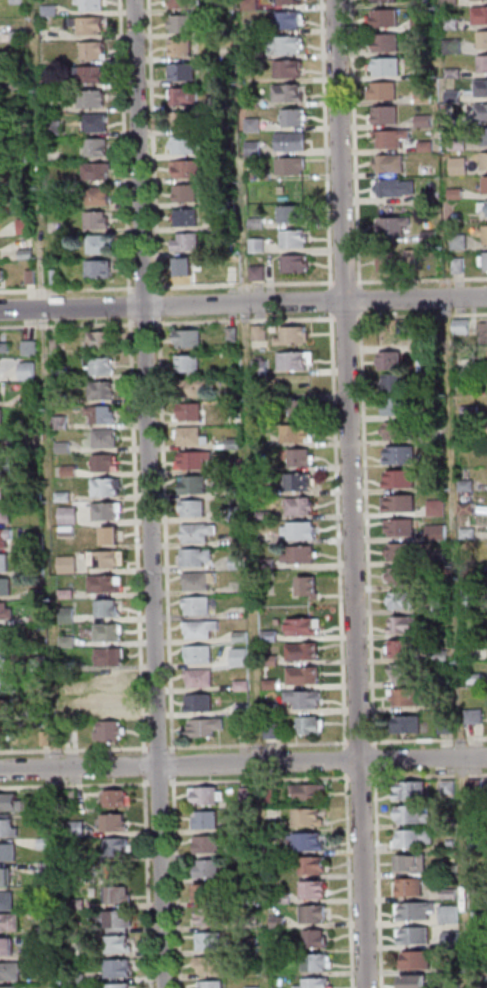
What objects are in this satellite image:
building: (21, 1)
building: (292, 1)
building: (387, 1)
building: (454, 2)
building: (184, 3)
building: (424, 3)
building: (94, 4)
building: (253, 4)
building: (53, 10)
building: (482, 15)
building: (387, 18)
building: (291, 20)
building: (454, 22)
building: (422, 23)
building: (185, 24)
building: (93, 25)
building: (223, 30)
building: (21, 35)
building: (424, 37)
building: (484, 39)
building: (388, 43)
building: (288, 44)
building: (456, 46)
building: (183, 48)
building: (96, 49)
building: (253, 51)
building: (484, 64)
building: (389, 67)
building: (291, 68)
building: (187, 71)
building: (91, 73)
building: (427, 73)
building: (456, 73)
building: (54, 84)
building: (483, 87)
building: (385, 91)
building: (291, 94)
building: (186, 96)
building: (456, 96)
building: (92, 98)
building: (427, 98)
building: (224, 101)
building: (255, 102)
building: (448, 109)
building: (483, 113)
building: (387, 115)
building: (296, 117)
building: (186, 119)
building: (427, 120)
building: (99, 122)
building: (256, 124)
building: (227, 125)
building: (57, 127)
building: (0, 129)
building: (27, 132)
building: (483, 133)
building: (394, 138)
building: (294, 141)
building: (188, 144)
road: (329, 144)
road: (357, 144)
building: (460, 145)
building: (428, 146)
building: (100, 147)
road: (127, 147)
road: (156, 148)
building: (256, 148)
building: (228, 152)
building: (26, 156)
building: (486, 159)
building: (392, 163)
building: (294, 165)
building: (460, 166)
building: (189, 168)
building: (100, 170)
building: (26, 180)
building: (484, 183)
building: (397, 187)
building: (188, 193)
building: (459, 193)
building: (101, 195)
building: (432, 198)
building: (24, 204)
building: (484, 206)
building: (295, 213)
building: (458, 216)
building: (189, 218)
building: (100, 219)
building: (228, 220)
building: (259, 222)
building: (1, 225)
building: (28, 225)
building: (396, 225)
building: (484, 232)
building: (432, 235)
building: (296, 238)
building: (462, 241)
building: (189, 242)
building: (101, 243)
building: (260, 246)
building: (28, 254)
building: (412, 257)
building: (484, 261)
building: (390, 262)
building: (297, 263)
building: (461, 265)
building: (187, 266)
building: (102, 268)
building: (261, 272)
building: (2, 274)
building: (56, 276)
building: (34, 277)
road: (423, 279)
road: (348, 281)
road: (246, 284)
road: (147, 288)
road: (69, 290)
road: (334, 301)
road: (362, 301)
road: (243, 303)
road: (162, 306)
road: (133, 307)
road: (423, 316)
road: (348, 318)
road: (247, 321)
road: (148, 324)
road: (69, 326)
building: (464, 326)
building: (485, 329)
building: (262, 333)
building: (235, 334)
building: (294, 336)
building: (191, 338)
building: (105, 340)
building: (5, 345)
building: (57, 346)
building: (33, 348)
building: (297, 360)
building: (393, 360)
building: (191, 363)
building: (104, 365)
building: (263, 367)
building: (30, 370)
building: (63, 373)
building: (470, 376)
building: (397, 382)
building: (197, 387)
building: (105, 389)
building: (1, 392)
building: (235, 394)
building: (32, 397)
building: (63, 398)
building: (399, 406)
building: (305, 409)
building: (472, 410)
building: (194, 412)
building: (233, 413)
building: (104, 414)
building: (268, 414)
building: (3, 417)
building: (63, 422)
building: (402, 430)
building: (300, 433)
building: (194, 436)
building: (108, 438)
building: (1, 441)
building: (237, 443)
building: (66, 447)
building: (402, 455)
building: (303, 457)
building: (196, 460)
building: (108, 462)
building: (5, 464)
building: (239, 465)
building: (72, 471)
building: (402, 479)
building: (301, 481)
building: (440, 484)
building: (195, 485)
building: (469, 485)
building: (109, 486)
building: (3, 490)
building: (238, 491)
building: (267, 491)
road: (152, 493)
road: (354, 493)
building: (37, 496)
building: (65, 496)
building: (401, 503)
building: (303, 506)
building: (196, 508)
building: (439, 508)
building: (469, 508)
building: (110, 510)
building: (241, 511)
building: (6, 513)
building: (71, 515)
building: (267, 515)
building: (402, 527)
building: (70, 530)
building: (302, 530)
road: (369, 530)
road: (340, 531)
building: (200, 532)
building: (439, 532)
building: (471, 534)
building: (114, 535)
road: (168, 536)
building: (6, 537)
road: (140, 537)
building: (241, 540)
building: (39, 543)
building: (403, 551)
building: (302, 555)
building: (198, 557)
building: (441, 557)
building: (109, 559)
building: (5, 562)
building: (240, 562)
building: (270, 563)
building: (70, 564)
building: (404, 576)
building: (201, 581)
building: (476, 582)
building: (107, 584)
building: (6, 586)
building: (310, 587)
building: (40, 594)
building: (69, 594)
building: (472, 597)
building: (405, 600)
building: (200, 605)
building: (443, 605)
building: (110, 608)
building: (6, 611)
building: (70, 615)
building: (42, 619)
building: (407, 625)
building: (305, 627)
building: (203, 629)
building: (112, 632)
building: (5, 635)
building: (272, 636)
building: (243, 637)
building: (72, 642)
building: (403, 648)
building: (306, 651)
building: (201, 654)
building: (443, 655)
building: (113, 657)
building: (242, 657)
building: (5, 659)
building: (273, 661)
building: (42, 663)
building: (71, 666)
building: (406, 672)
building: (306, 676)
building: (202, 678)
building: (478, 679)
building: (447, 680)
building: (113, 681)
building: (7, 684)
building: (273, 684)
building: (244, 686)
building: (77, 688)
building: (43, 690)
building: (407, 696)
building: (307, 699)
building: (201, 703)
building: (112, 705)
building: (6, 708)
building: (274, 709)
building: (245, 710)
building: (44, 712)
building: (74, 713)
building: (477, 716)
building: (410, 724)
building: (448, 724)
building: (311, 725)
building: (207, 727)
building: (113, 731)
building: (275, 731)
building: (6, 735)
building: (69, 735)
building: (48, 737)
road: (429, 740)
road: (362, 742)
road: (260, 745)
road: (161, 748)
road: (75, 750)
road: (377, 760)
road: (348, 761)
road: (243, 764)
road: (176, 766)
road: (147, 767)
road: (429, 776)
road: (363, 779)
road: (261, 781)
road: (162, 783)
road: (76, 785)
building: (451, 787)
building: (479, 787)
building: (413, 791)
building: (311, 792)
building: (249, 795)
building: (208, 796)
building: (273, 796)
building: (49, 797)
building: (72, 797)
building: (119, 799)
building: (12, 803)
building: (414, 815)
building: (310, 818)
building: (208, 820)
building: (479, 820)
building: (450, 821)
building: (46, 822)
building: (117, 823)
building: (278, 825)
building: (9, 828)
building: (79, 828)
building: (416, 838)
building: (309, 842)
building: (479, 842)
building: (47, 843)
building: (453, 843)
building: (210, 844)
building: (120, 846)
building: (279, 851)
building: (9, 852)
building: (77, 856)
building: (412, 863)
building: (314, 865)
building: (210, 869)
building: (453, 870)
building: (50, 872)
building: (6, 878)
road: (351, 880)
road: (380, 880)
road: (179, 881)
road: (149, 883)
building: (412, 888)
building: (315, 890)
building: (208, 893)
building: (481, 893)
building: (451, 894)
building: (122, 895)
building: (249, 899)
building: (285, 899)
building: (8, 902)
building: (79, 904)
building: (416, 911)
building: (316, 914)
building: (451, 915)
building: (212, 917)
building: (481, 917)
building: (119, 918)
building: (11, 922)
building: (280, 922)
building: (416, 935)
building: (317, 939)
building: (453, 939)
building: (212, 941)
building: (482, 942)
building: (122, 945)
building: (8, 946)
building: (252, 946)
building: (79, 950)
building: (417, 961)
building: (317, 963)
building: (482, 963)
building: (454, 964)
building: (211, 965)
building: (122, 968)
building: (11, 971)
building: (80, 978)
building: (415, 982)
building: (318, 983)
building: (214, 985)
building: (121, 986)
building: (456, 986)
building: (11, 987)
building: (252, 987)
building: (483, 987)

